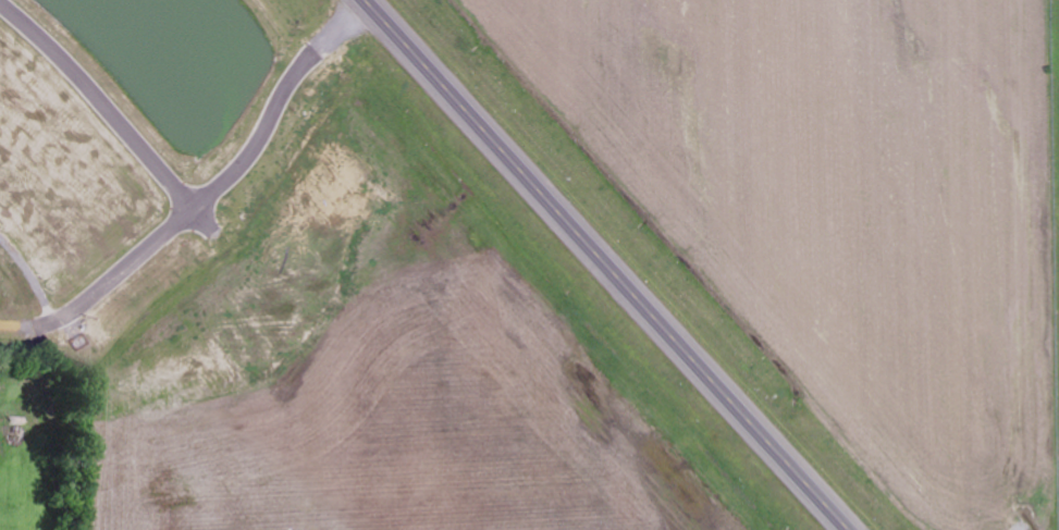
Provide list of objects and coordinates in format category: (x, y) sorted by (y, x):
road: (101, 101)
road: (278, 104)
road: (202, 220)
road: (609, 264)
road: (120, 273)

